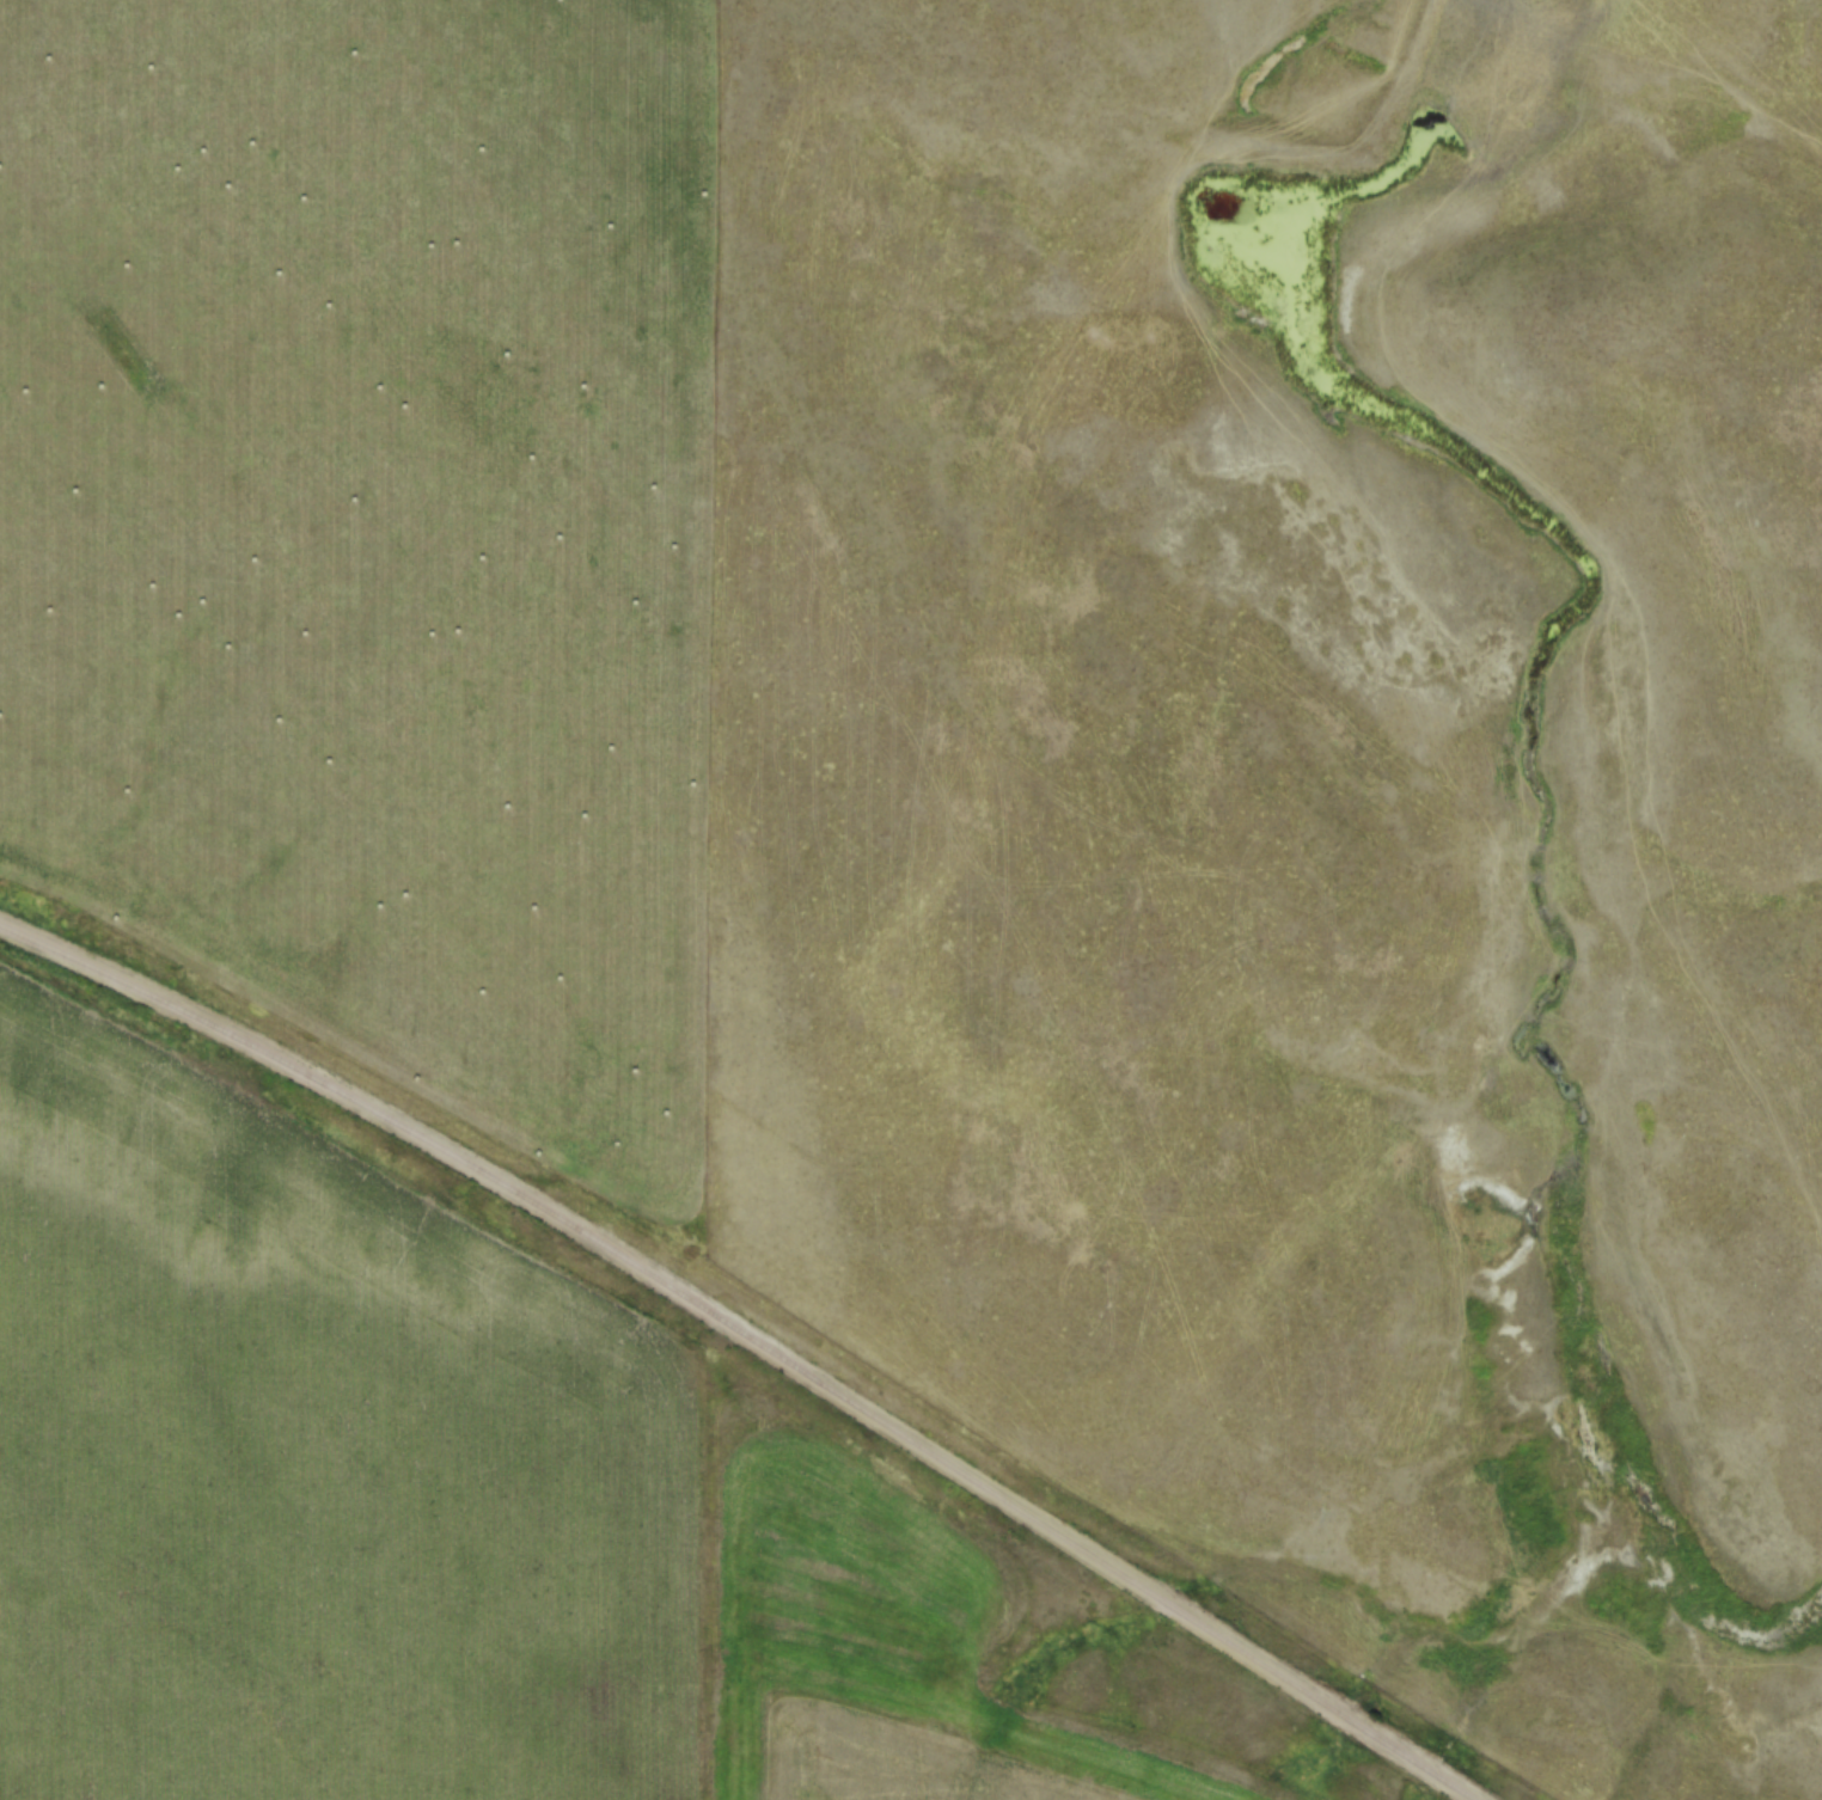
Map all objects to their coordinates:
railway: (746, 1345)

